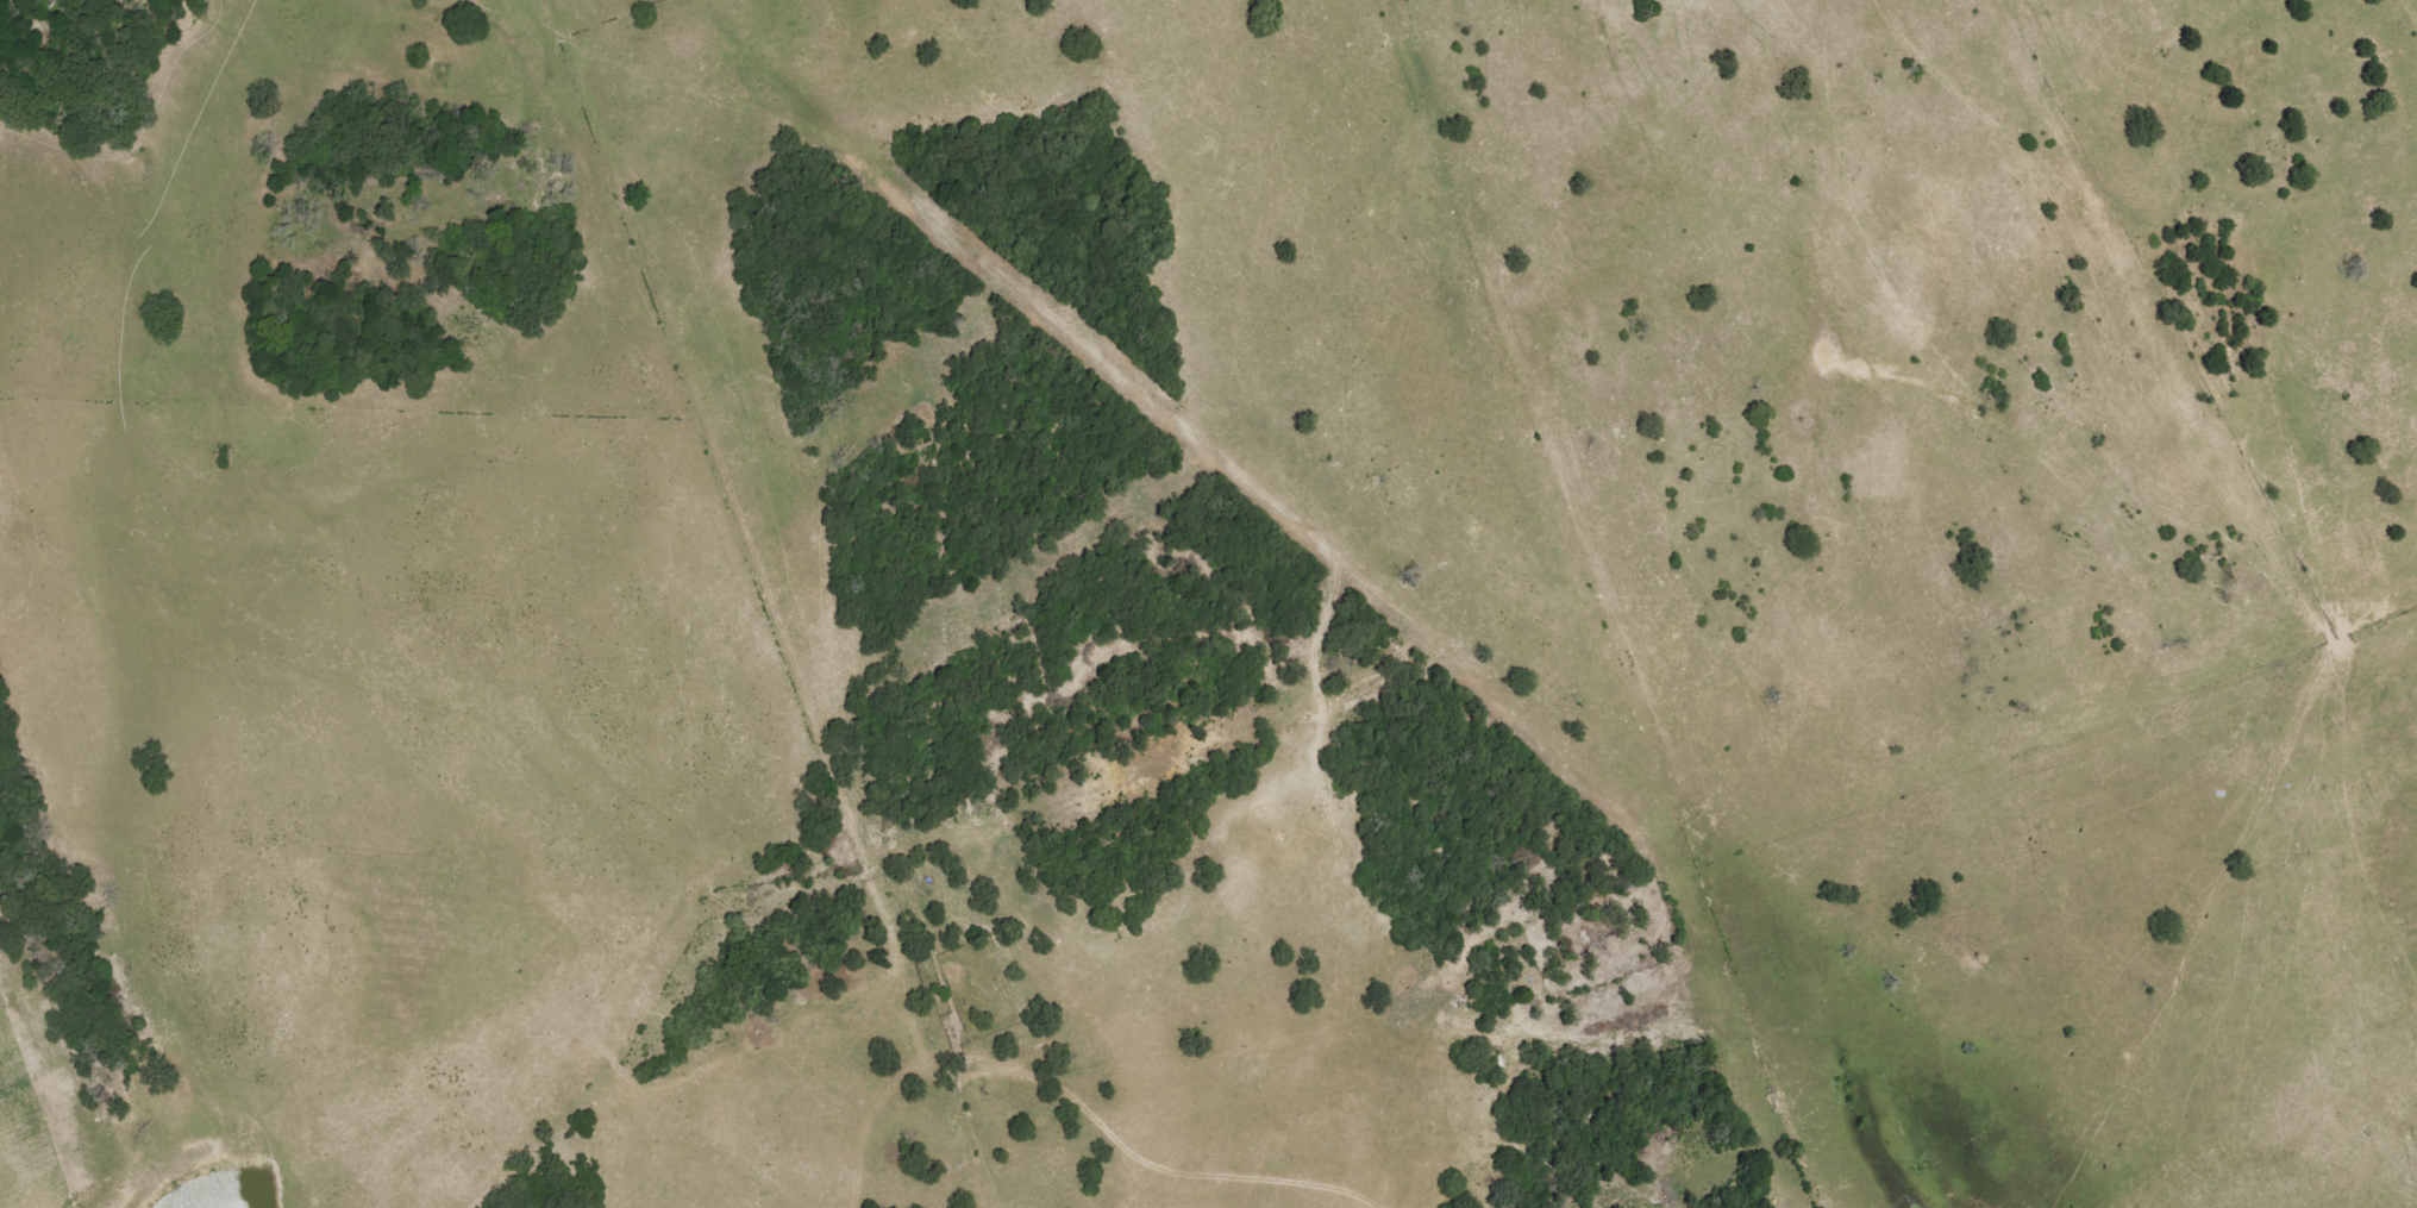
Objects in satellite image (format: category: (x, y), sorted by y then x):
road: (1590, 669)

